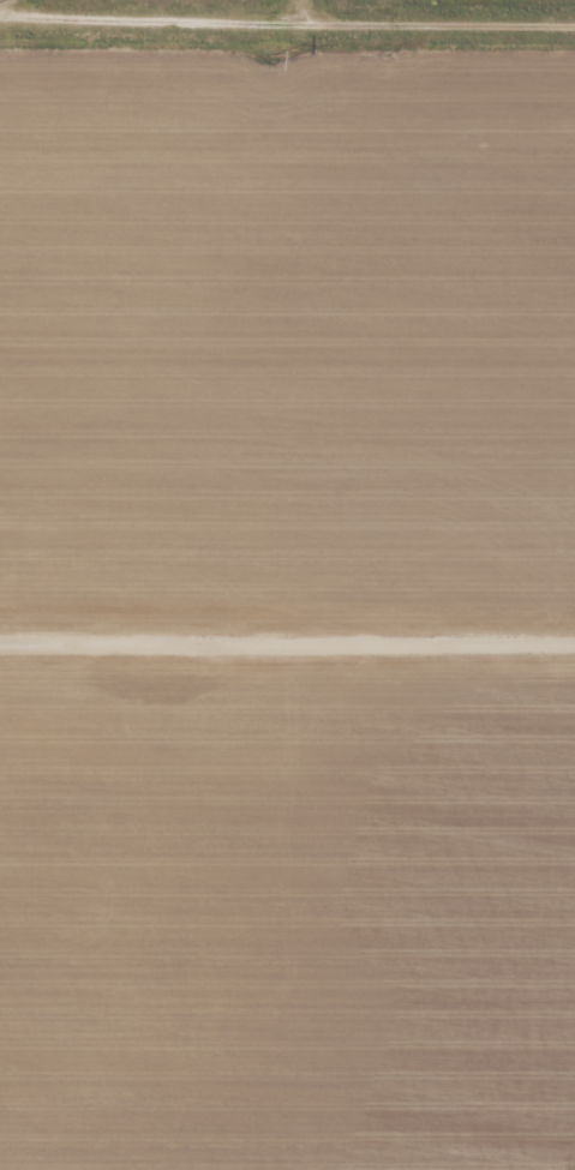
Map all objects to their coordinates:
road: (304, 4)
road: (155, 22)
power tower: (268, 64)
wind turbine: (175, 674)

